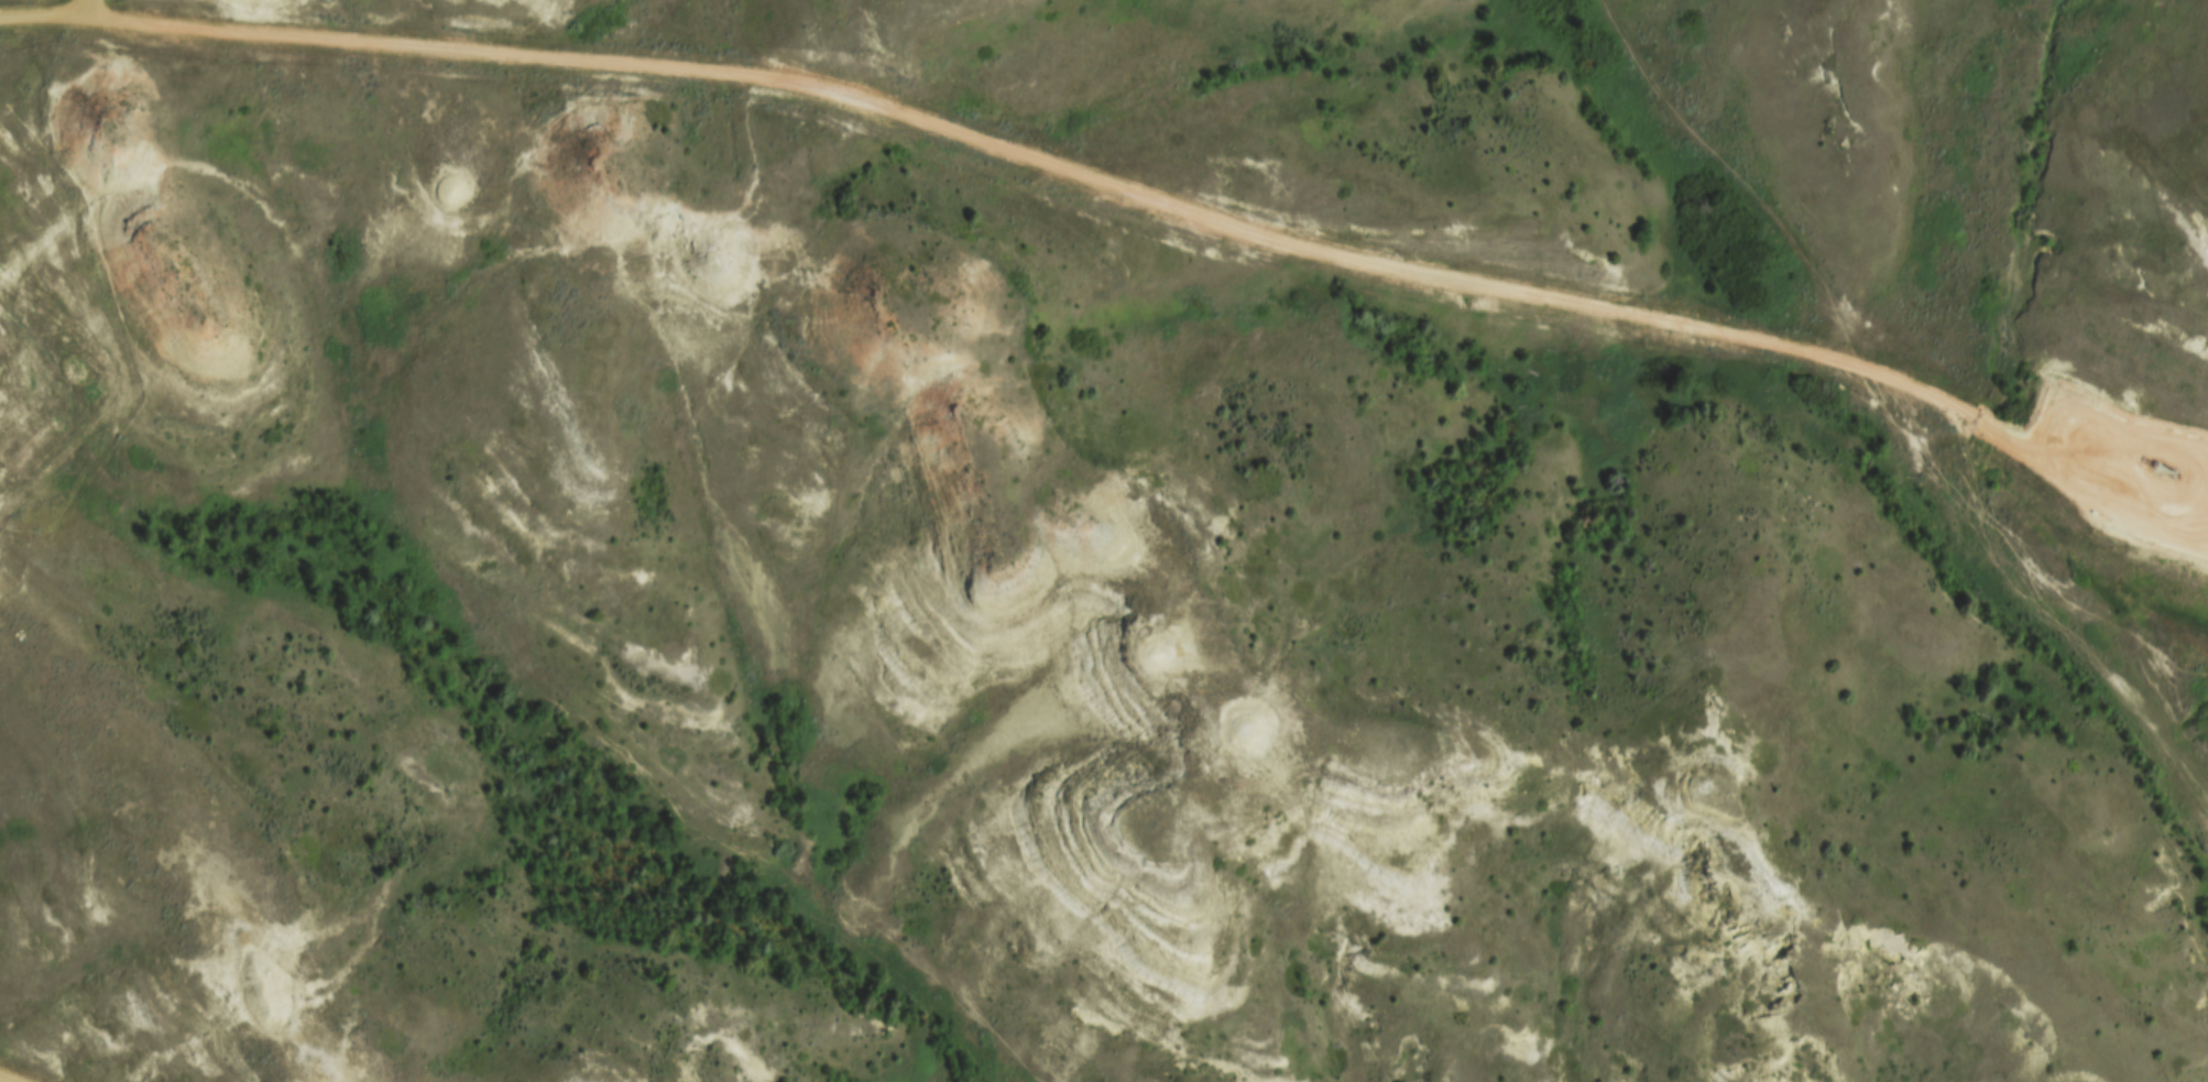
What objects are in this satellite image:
road: (85, 9)
road: (42, 17)
road: (1107, 182)
road: (1746, 192)
road: (18, 444)
road: (1, 1081)

